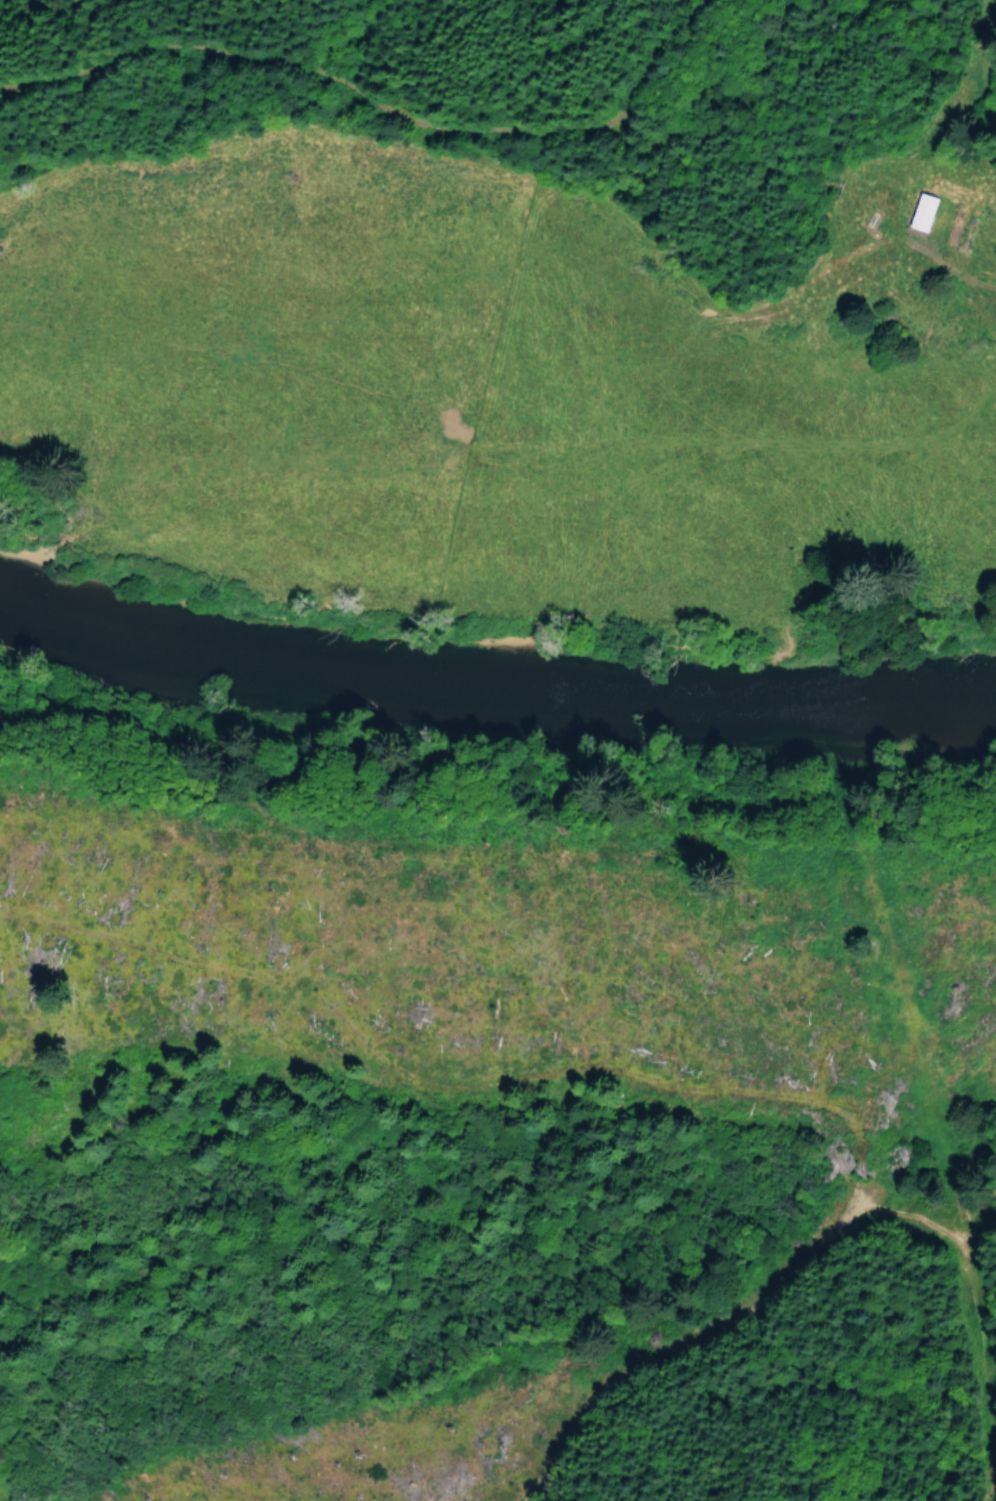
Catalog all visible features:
road: (409, 51)
road: (966, 64)
building: (922, 211)
crop: (467, 393)
river: (494, 686)

